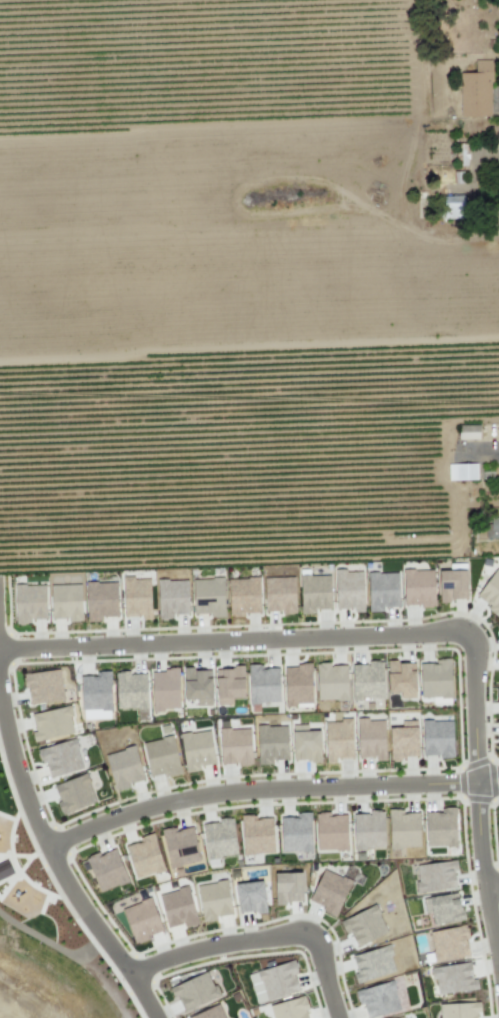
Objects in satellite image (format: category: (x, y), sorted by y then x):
building: (498, 4)
building: (475, 90)
building: (468, 431)
building: (461, 471)
building: (492, 527)
building: (452, 582)
building: (418, 587)
building: (349, 590)
building: (382, 590)
building: (314, 592)
building: (491, 593)
building: (279, 594)
building: (243, 595)
building: (208, 596)
building: (136, 597)
building: (172, 598)
building: (101, 600)
building: (65, 602)
building: (29, 603)
road: (302, 641)
building: (401, 678)
building: (434, 679)
building: (367, 680)
building: (331, 681)
building: (262, 684)
building: (297, 684)
building: (197, 685)
building: (228, 685)
building: (43, 686)
building: (165, 689)
building: (131, 690)
building: (498, 693)
building: (95, 694)
building: (52, 723)
building: (370, 738)
building: (436, 738)
building: (337, 739)
building: (404, 739)
building: (305, 742)
building: (271, 743)
building: (235, 746)
building: (196, 749)
building: (161, 756)
building: (61, 758)
building: (124, 767)
road: (483, 783)
building: (73, 794)
road: (189, 799)
building: (440, 827)
building: (403, 829)
building: (368, 830)
building: (331, 831)
building: (296, 833)
building: (256, 834)
building: (218, 838)
road: (474, 844)
building: (179, 846)
building: (143, 856)
building: (4, 869)
building: (106, 869)
building: (436, 876)
building: (287, 887)
building: (330, 889)
building: (250, 896)
building: (214, 900)
building: (425, 905)
building: (177, 907)
building: (445, 907)
building: (141, 919)
building: (364, 925)
road: (491, 931)
road: (100, 933)
road: (260, 937)
building: (449, 943)
building: (372, 963)
building: (453, 978)
building: (273, 982)
building: (194, 990)
building: (381, 999)
building: (288, 1009)
building: (458, 1010)
building: (209, 1013)

